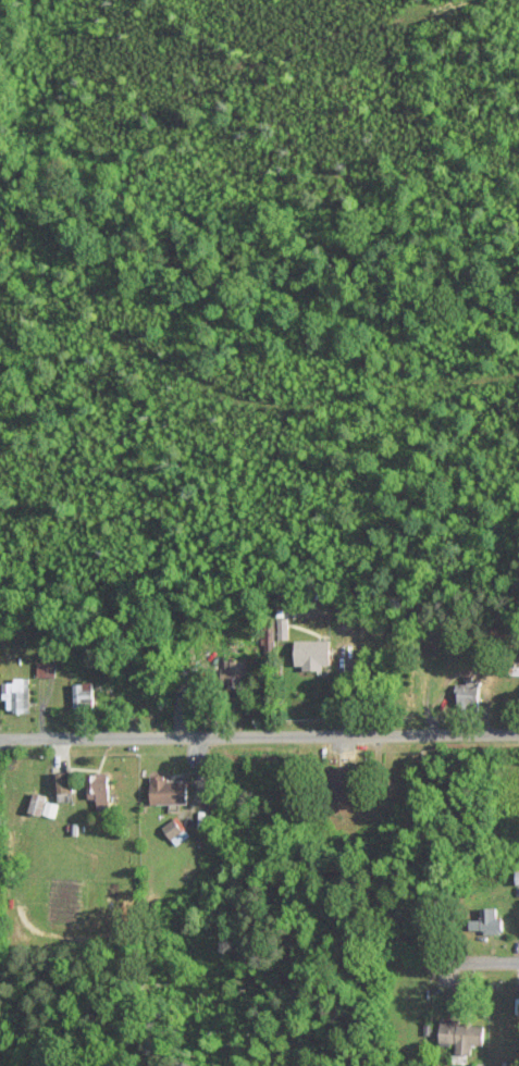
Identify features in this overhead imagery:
building: (313, 653)
building: (237, 666)
building: (46, 668)
building: (518, 670)
building: (466, 690)
building: (16, 694)
building: (83, 695)
road: (259, 735)
building: (62, 781)
building: (345, 783)
building: (98, 786)
building: (171, 790)
building: (42, 804)
building: (176, 830)
building: (517, 877)
building: (486, 921)
road: (418, 964)
building: (461, 1034)

